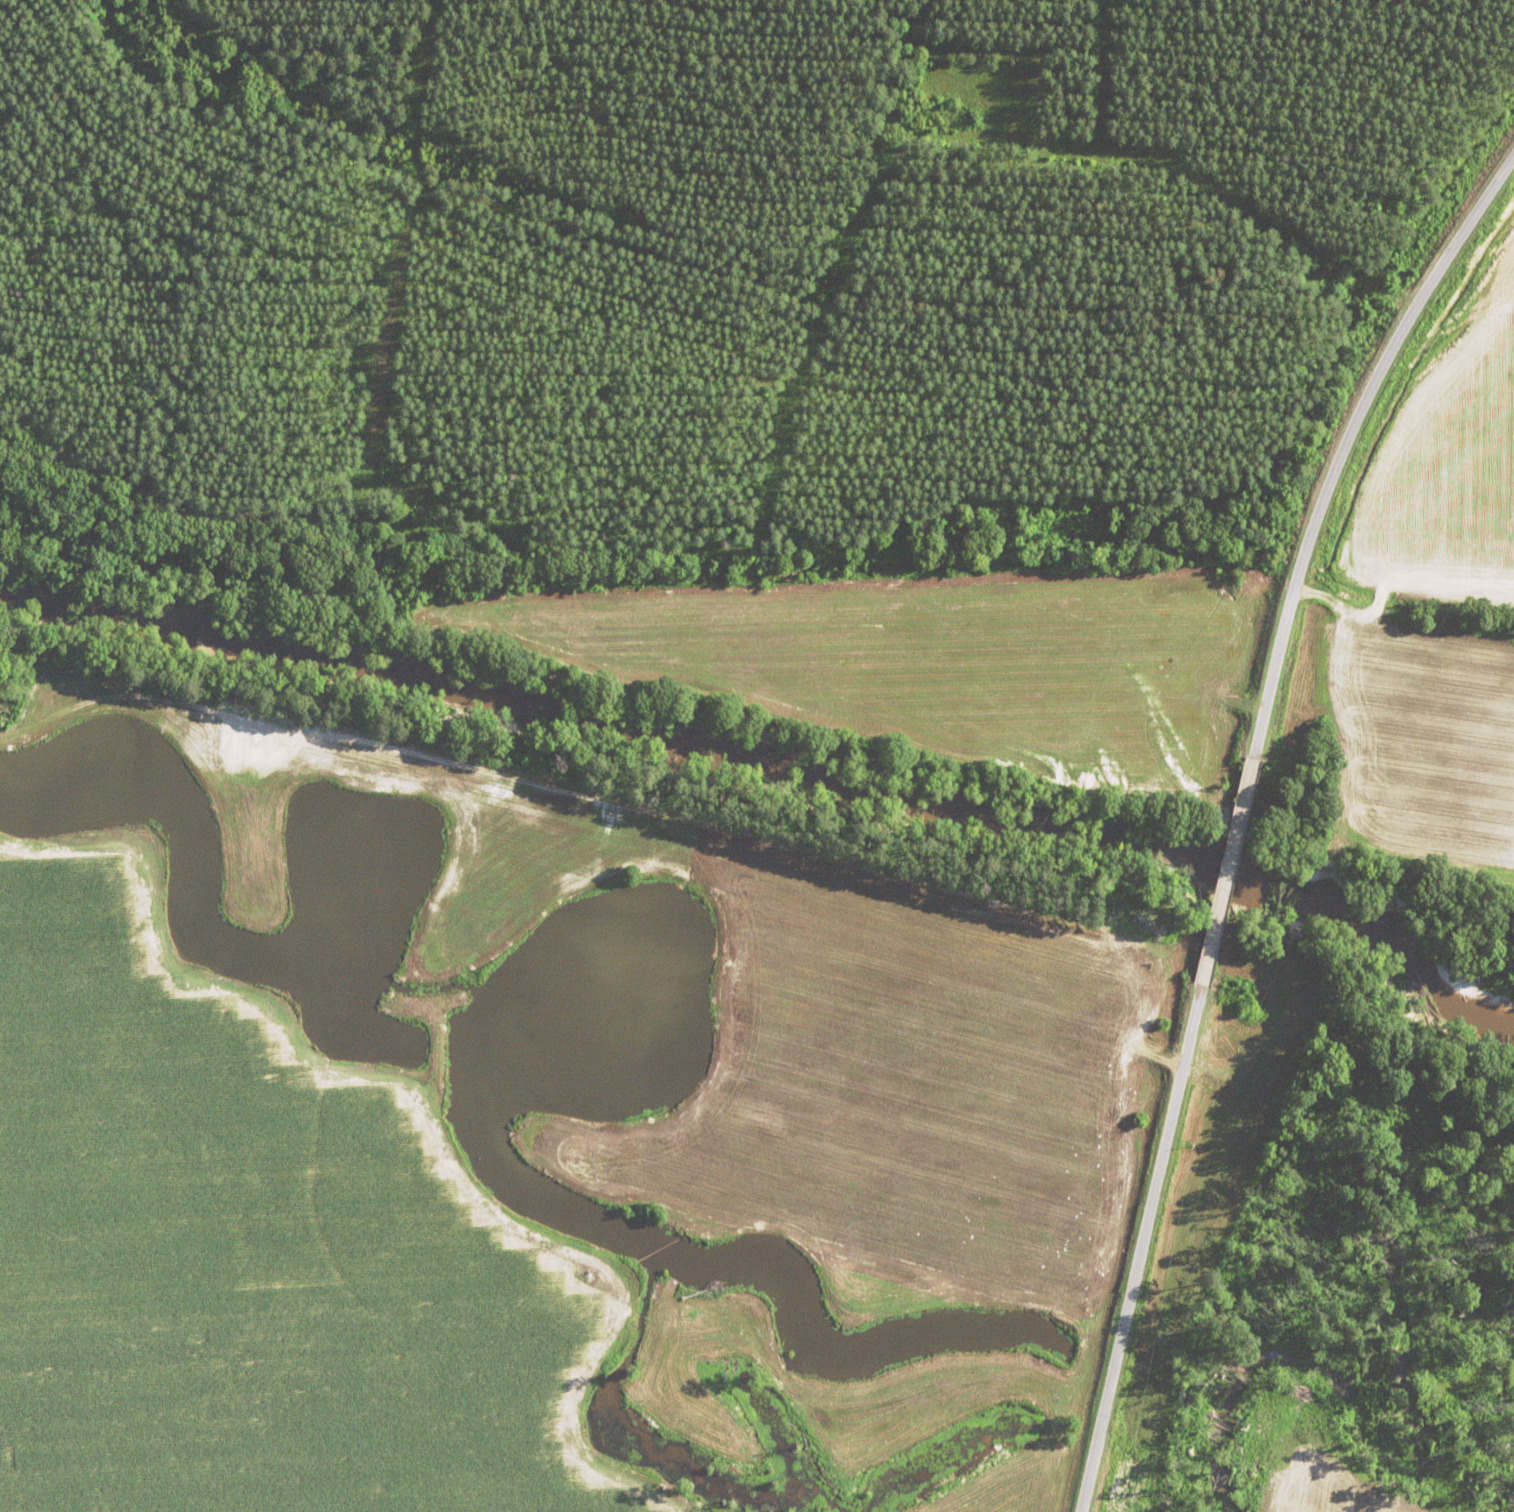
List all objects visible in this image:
road: (1251, 811)

